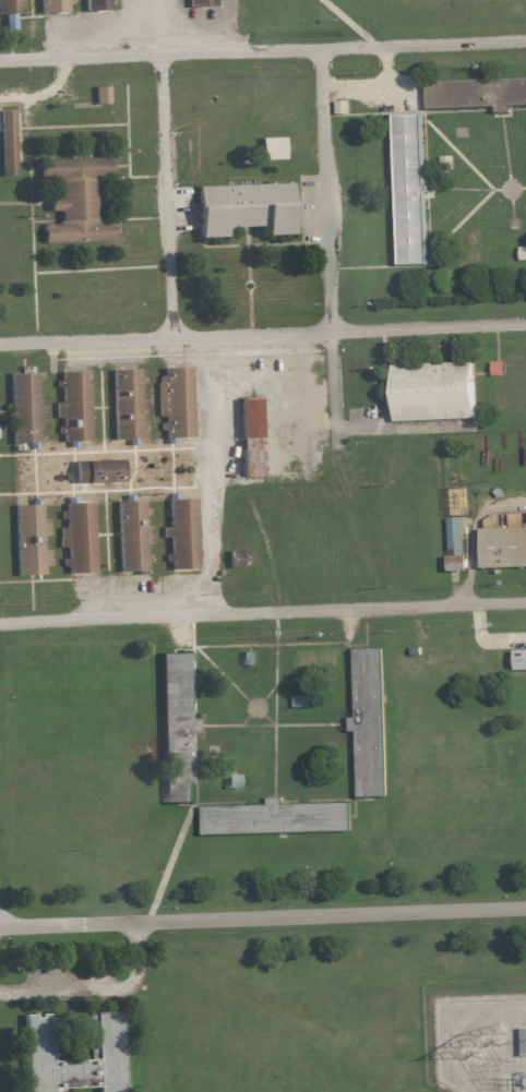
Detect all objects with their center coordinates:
building: (201, 4)
building: (97, 5)
building: (53, 7)
building: (10, 12)
road: (159, 27)
road: (263, 52)
building: (477, 95)
building: (99, 96)
building: (346, 106)
building: (7, 143)
building: (272, 148)
building: (409, 190)
road: (324, 191)
road: (167, 195)
building: (75, 201)
building: (244, 209)
building: (524, 252)
road: (349, 329)
road: (86, 339)
building: (501, 367)
building: (433, 392)
building: (177, 403)
road: (334, 404)
building: (127, 405)
building: (74, 407)
building: (23, 408)
building: (253, 431)
building: (525, 453)
building: (97, 472)
road: (207, 475)
building: (458, 533)
building: (181, 535)
building: (130, 536)
road: (473, 536)
building: (79, 538)
building: (28, 539)
building: (503, 543)
building: (240, 557)
building: (461, 561)
road: (263, 613)
building: (252, 658)
building: (522, 659)
building: (302, 700)
building: (368, 723)
building: (177, 728)
building: (236, 780)
building: (275, 819)
road: (263, 917)
power tower: (494, 1034)
building: (105, 1039)
building: (524, 1039)
power substation: (482, 1044)
power tower: (475, 1047)

